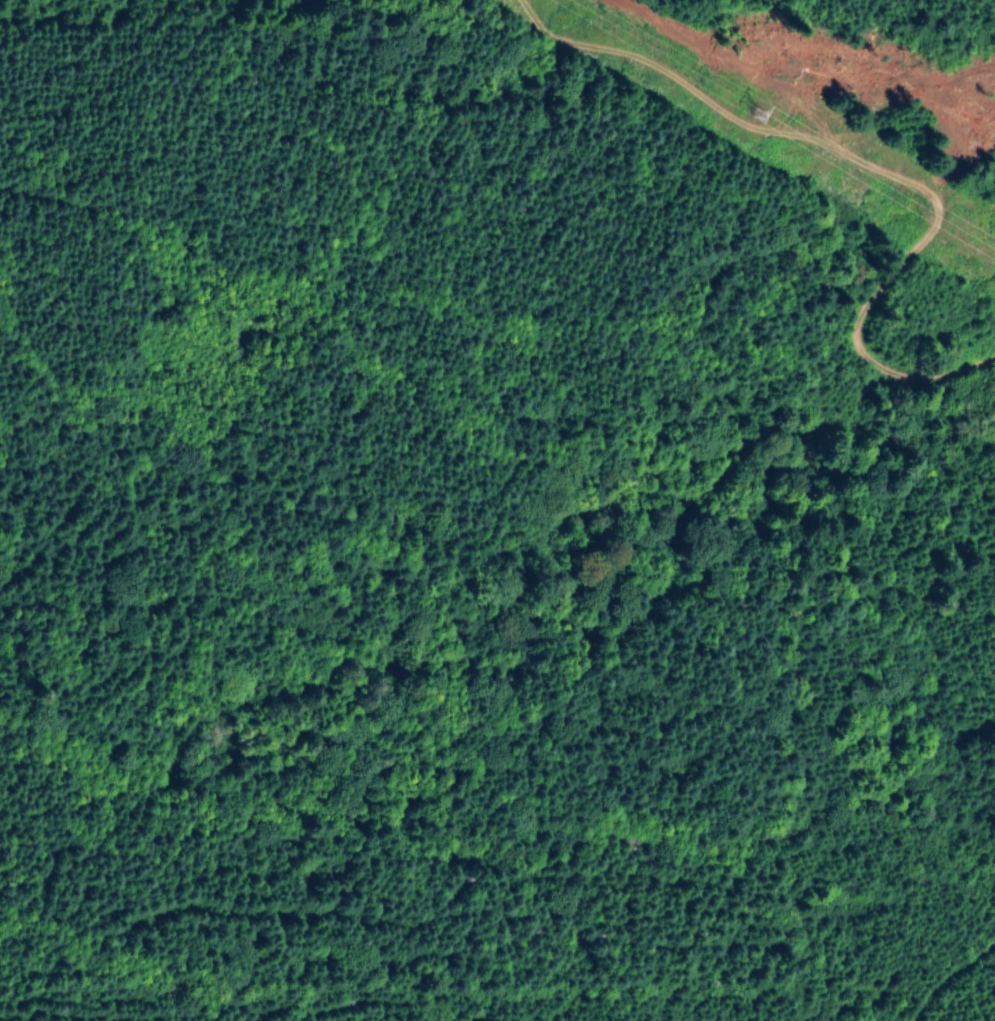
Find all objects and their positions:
power tower: (753, 104)
road: (939, 962)

